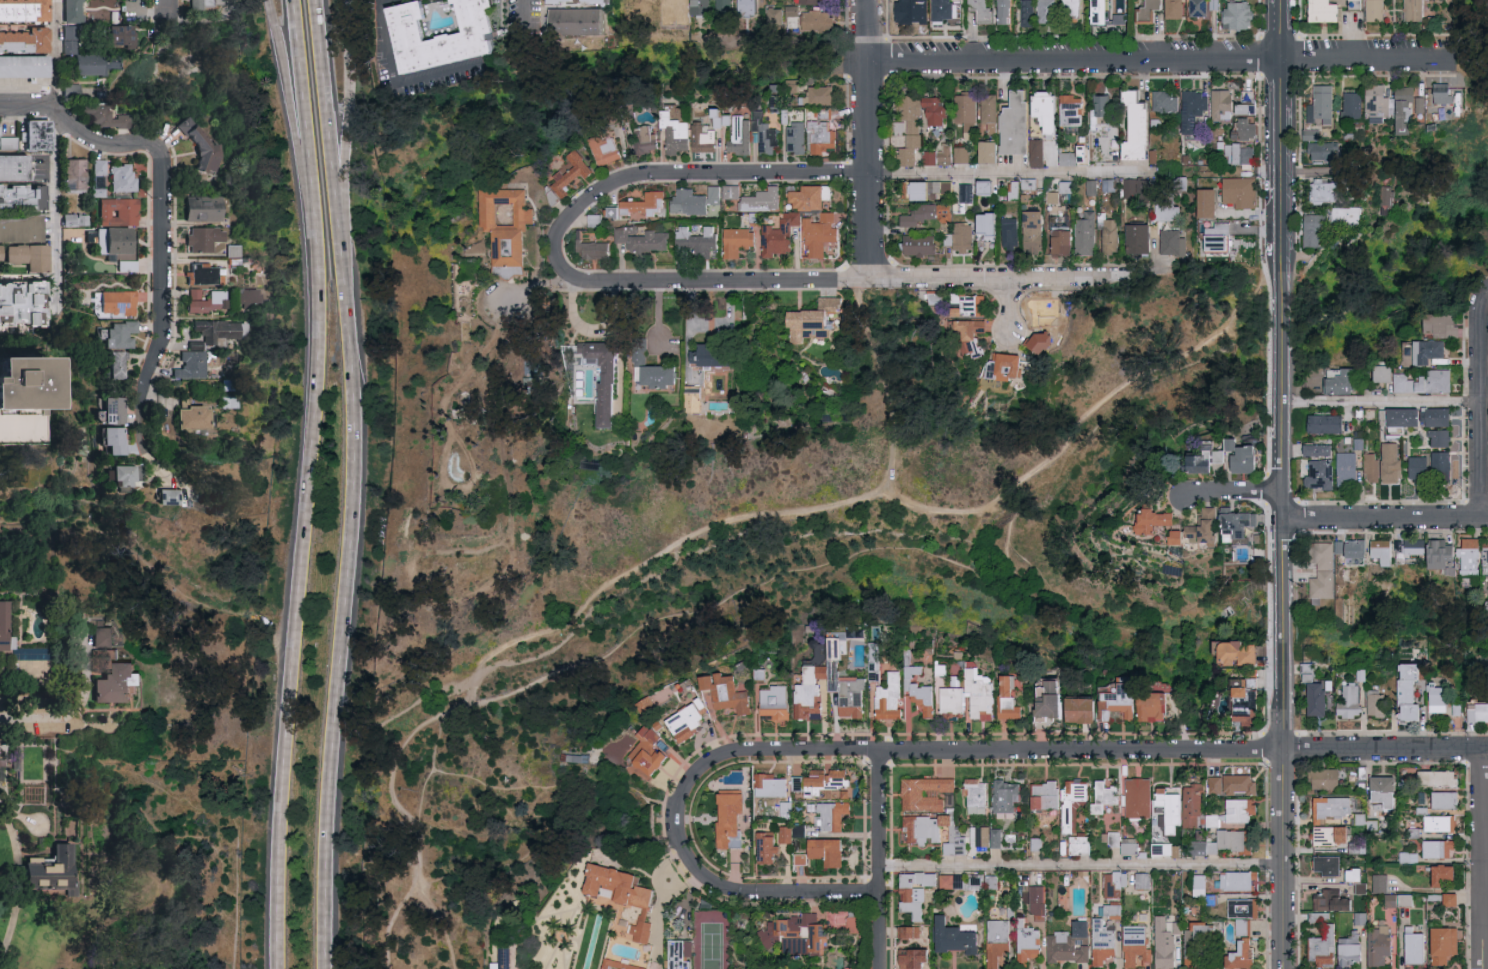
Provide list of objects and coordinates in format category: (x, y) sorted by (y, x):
building: (571, 1)
building: (815, 1)
building: (207, 3)
building: (703, 7)
building: (726, 7)
building: (749, 7)
building: (1200, 8)
road: (167, 9)
road: (525, 9)
building: (917, 9)
building: (945, 9)
building: (1176, 9)
building: (25, 10)
building: (793, 10)
building: (986, 10)
building: (1074, 10)
building: (1327, 10)
building: (1377, 10)
building: (1416, 10)
building: (74, 11)
building: (1008, 11)
building: (1049, 11)
building: (1152, 11)
building: (1104, 12)
building: (1029, 13)
building: (1239, 15)
building: (777, 17)
building: (1121, 18)
building: (819, 20)
building: (583, 21)
building: (124, 35)
building: (70, 39)
building: (27, 40)
road: (54, 52)
road: (1111, 56)
building: (96, 63)
building: (26, 66)
road: (408, 77)
road: (1280, 85)
building: (792, 87)
building: (1444, 92)
building: (821, 95)
building: (1167, 100)
building: (1381, 103)
building: (1224, 104)
building: (1355, 104)
building: (1323, 105)
building: (991, 108)
building: (1104, 108)
building: (1248, 108)
building: (1411, 108)
building: (1051, 109)
building: (1074, 109)
building: (937, 110)
building: (1195, 111)
building: (968, 112)
building: (106, 116)
road: (325, 117)
road: (347, 117)
building: (720, 118)
road: (292, 121)
road: (306, 121)
building: (1140, 127)
building: (909, 128)
road: (82, 129)
building: (1248, 129)
building: (823, 132)
building: (1027, 132)
building: (755, 134)
building: (1312, 134)
building: (41, 135)
building: (678, 136)
building: (798, 137)
building: (647, 139)
building: (706, 139)
road: (870, 139)
building: (8, 141)
building: (203, 144)
building: (607, 148)
building: (1324, 150)
building: (992, 152)
building: (962, 154)
building: (1239, 154)
building: (939, 155)
building: (1077, 155)
building: (16, 167)
road: (1009, 171)
road: (1316, 171)
building: (574, 172)
road: (672, 172)
road: (1253, 172)
building: (76, 175)
building: (99, 177)
building: (123, 178)
building: (1066, 186)
building: (988, 187)
building: (1137, 188)
building: (929, 189)
building: (1339, 189)
building: (733, 191)
building: (1240, 191)
building: (967, 192)
building: (1014, 193)
building: (23, 196)
building: (1053, 196)
building: (812, 198)
building: (696, 200)
building: (764, 200)
building: (1172, 203)
building: (1209, 203)
road: (54, 204)
building: (644, 205)
building: (206, 208)
building: (119, 211)
building: (1345, 213)
building: (930, 215)
building: (76, 219)
building: (991, 224)
building: (510, 227)
building: (22, 230)
building: (1314, 230)
building: (1012, 232)
building: (1036, 232)
building: (1110, 232)
building: (781, 234)
building: (822, 234)
building: (1087, 234)
building: (685, 236)
building: (965, 236)
building: (1217, 237)
building: (206, 238)
building: (644, 238)
building: (949, 238)
building: (1141, 238)
building: (1064, 241)
building: (1172, 241)
building: (117, 242)
building: (706, 242)
building: (922, 245)
building: (593, 247)
building: (1, 254)
building: (31, 256)
building: (125, 267)
building: (204, 274)
road: (877, 277)
road: (1280, 286)
road: (1485, 286)
building: (251, 295)
building: (209, 300)
road: (159, 301)
building: (115, 304)
building: (545, 304)
road: (1013, 304)
building: (24, 305)
building: (971, 305)
building: (1043, 307)
building: (817, 320)
building: (1433, 321)
building: (222, 330)
building: (122, 333)
building: (969, 333)
building: (1043, 341)
building: (1424, 350)
building: (713, 354)
building: (193, 361)
building: (118, 364)
road: (1137, 366)
building: (1008, 367)
building: (1379, 372)
building: (663, 376)
building: (607, 378)
building: (1435, 379)
building: (1327, 381)
building: (1404, 382)
building: (21, 384)
road: (1382, 401)
road: (1483, 401)
road: (1486, 402)
building: (114, 409)
building: (1413, 415)
building: (196, 418)
building: (1452, 421)
building: (1322, 423)
road: (12, 436)
building: (1436, 437)
building: (116, 439)
building: (1314, 449)
building: (1248, 456)
road: (1281, 458)
building: (1210, 459)
building: (1388, 461)
road: (150, 465)
building: (1369, 466)
building: (1413, 466)
building: (1435, 466)
building: (1344, 468)
building: (1317, 473)
building: (126, 476)
road: (1227, 490)
building: (172, 497)
road: (946, 511)
road: (1385, 516)
road: (1014, 517)
building: (1158, 521)
building: (1241, 525)
building: (1208, 528)
building: (1183, 537)
building: (1347, 550)
building: (1376, 550)
building: (1422, 550)
building: (1462, 556)
building: (1482, 557)
park: (815, 564)
building: (1320, 571)
road: (621, 576)
road: (747, 589)
road: (342, 601)
road: (1144, 602)
road: (298, 605)
building: (4, 629)
road: (1281, 632)
building: (856, 634)
building: (103, 638)
building: (1228, 650)
building: (117, 684)
building: (833, 685)
building: (730, 691)
building: (1401, 691)
building: (983, 692)
building: (1239, 692)
building: (1441, 695)
building: (925, 697)
building: (956, 698)
building: (1013, 698)
building: (1053, 698)
building: (1310, 698)
building: (1118, 700)
building: (779, 701)
building: (1343, 701)
building: (1158, 702)
building: (1372, 703)
road: (69, 708)
building: (1082, 709)
building: (1476, 712)
building: (1239, 718)
building: (690, 720)
road: (1183, 748)
building: (653, 750)
building: (2, 768)
building: (1431, 778)
road: (389, 782)
building: (798, 783)
building: (831, 783)
building: (1231, 783)
road: (490, 784)
building: (772, 785)
building: (927, 792)
building: (1376, 792)
building: (1047, 794)
building: (978, 795)
building: (1107, 795)
building: (1007, 796)
building: (1140, 796)
building: (1439, 799)
building: (1194, 803)
building: (1075, 804)
building: (1329, 805)
building: (1172, 807)
building: (1242, 809)
building: (833, 814)
building: (733, 817)
road: (681, 822)
building: (1436, 823)
building: (922, 828)
building: (800, 830)
building: (786, 833)
building: (981, 835)
building: (1327, 835)
building: (997, 837)
building: (1234, 838)
building: (957, 840)
building: (1082, 844)
building: (1130, 845)
building: (769, 847)
building: (1204, 847)
building: (1164, 848)
building: (1434, 848)
road: (640, 849)
building: (830, 850)
building: (1406, 856)
building: (803, 858)
road: (1280, 858)
road: (1483, 858)
road: (880, 860)
park: (153, 863)
building: (1323, 864)
road: (1080, 866)
building: (51, 870)
building: (1347, 874)
building: (1434, 874)
building: (1122, 879)
building: (1144, 880)
building: (1238, 880)
building: (950, 881)
building: (992, 881)
road: (16, 883)
building: (1377, 883)
building: (916, 891)
building: (621, 898)
building: (1445, 898)
building: (1039, 899)
building: (1395, 899)
building: (1327, 900)
building: (1115, 910)
building: (1244, 912)
building: (1357, 917)
road: (392, 919)
building: (856, 922)
building: (805, 931)
building: (910, 931)
building: (959, 936)
building: (1000, 941)
building: (1106, 941)
building: (1167, 941)
building: (1031, 943)
building: (1073, 943)
building: (1201, 943)
building: (1438, 944)
building: (1138, 945)
building: (1319, 945)
building: (1376, 945)
building: (1409, 946)
building: (1245, 953)
building: (680, 954)
building: (504, 958)
building: (915, 958)
building: (623, 964)
building: (853, 967)

